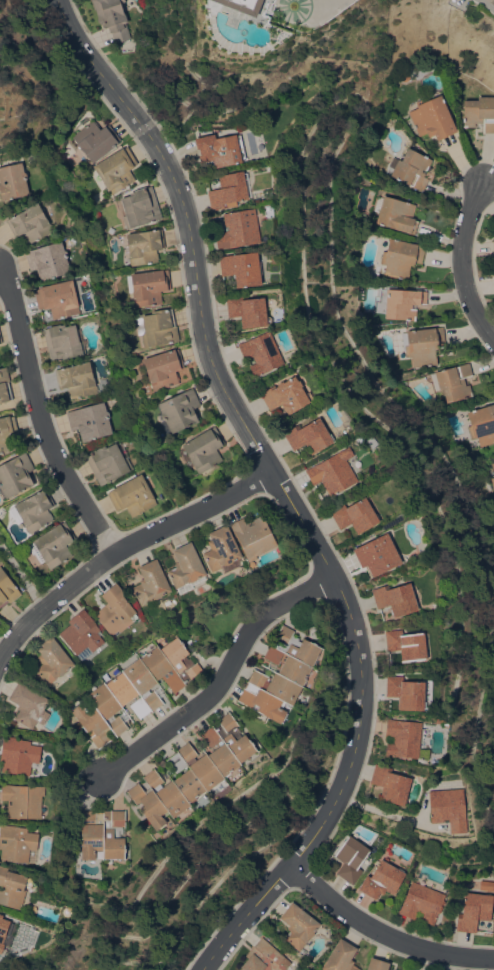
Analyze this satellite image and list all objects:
building: (246, 5)
road: (486, 5)
road: (314, 6)
building: (113, 18)
building: (480, 112)
building: (433, 117)
building: (95, 140)
building: (221, 149)
building: (410, 168)
building: (117, 169)
building: (13, 181)
building: (228, 190)
building: (139, 208)
building: (397, 214)
building: (30, 223)
building: (239, 229)
building: (493, 242)
building: (145, 246)
building: (401, 257)
building: (49, 260)
road: (463, 264)
building: (242, 268)
building: (148, 286)
building: (58, 298)
building: (404, 303)
building: (248, 310)
building: (157, 327)
building: (1, 339)
building: (62, 341)
building: (424, 345)
building: (262, 352)
building: (162, 369)
building: (77, 379)
building: (454, 381)
building: (4, 385)
building: (285, 395)
building: (180, 410)
road: (40, 420)
building: (90, 421)
building: (482, 424)
building: (5, 433)
building: (309, 436)
building: (204, 449)
building: (107, 463)
building: (493, 466)
building: (333, 471)
building: (15, 475)
building: (493, 481)
road: (282, 491)
building: (133, 495)
building: (34, 511)
building: (355, 515)
building: (253, 536)
building: (52, 546)
road: (123, 548)
building: (222, 551)
building: (377, 554)
building: (186, 565)
building: (151, 582)
building: (7, 588)
building: (396, 598)
building: (116, 610)
building: (82, 633)
building: (407, 644)
building: (52, 660)
building: (281, 674)
road: (222, 677)
building: (136, 689)
building: (406, 692)
building: (29, 705)
building: (442, 722)
building: (403, 738)
building: (19, 756)
building: (194, 771)
building: (391, 784)
building: (23, 800)
building: (449, 808)
building: (103, 833)
building: (17, 842)
building: (352, 856)
building: (382, 879)
building: (487, 885)
building: (13, 887)
building: (422, 902)
building: (474, 911)
building: (299, 925)
building: (4, 931)
road: (383, 933)
building: (264, 957)
building: (341, 957)
building: (378, 964)

